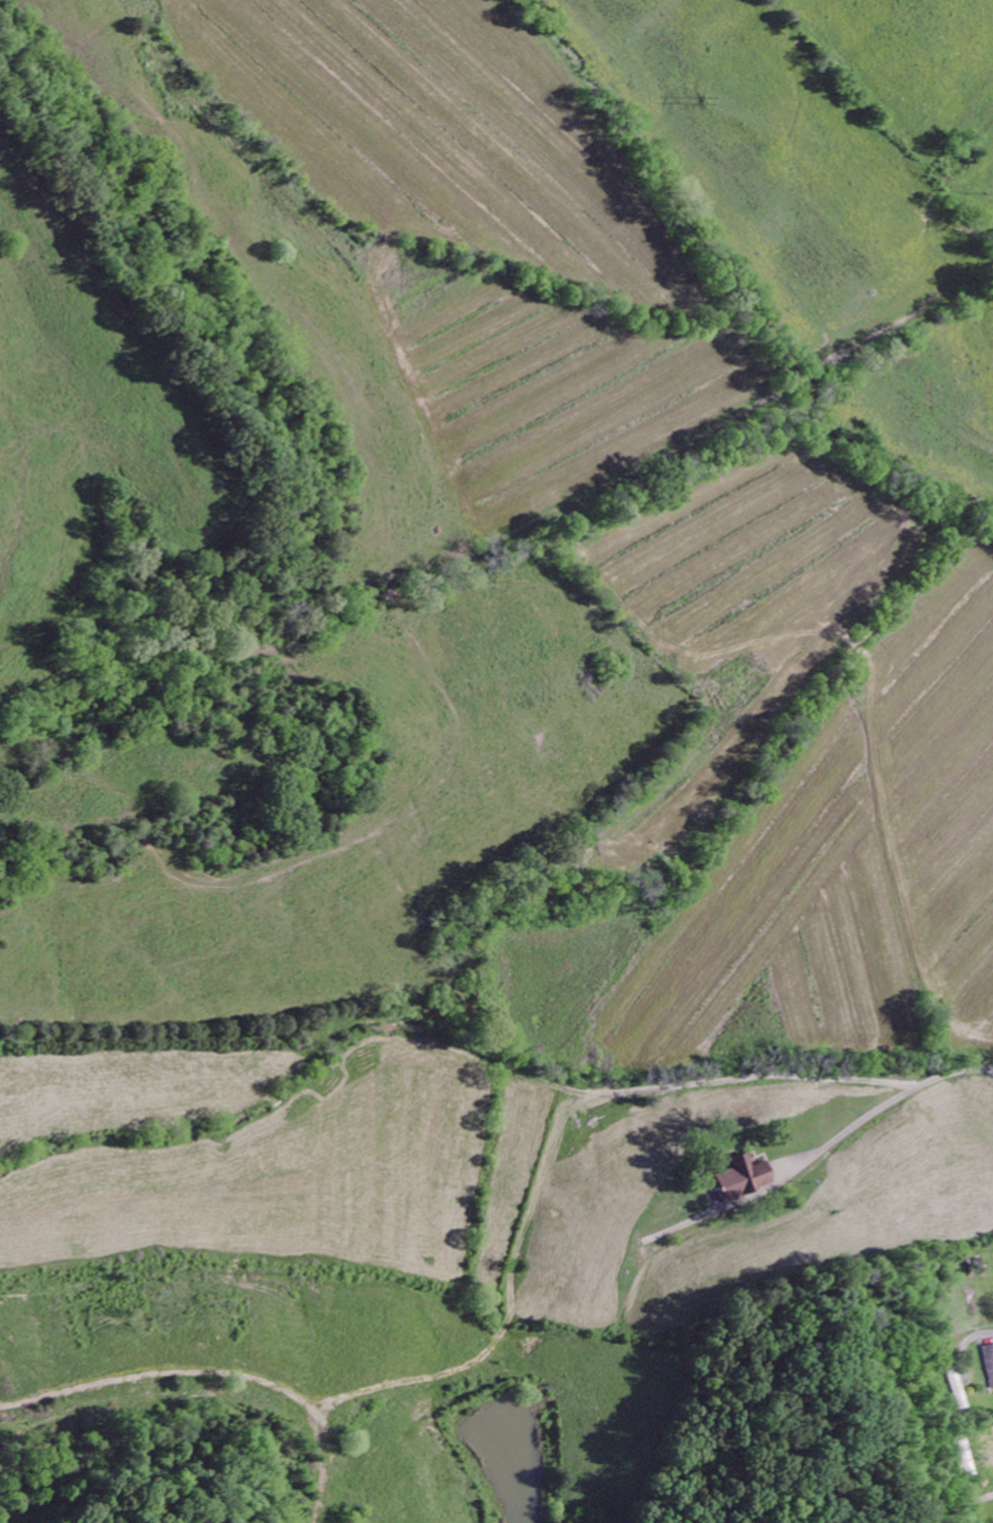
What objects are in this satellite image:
road: (632, 1059)
building: (745, 1181)
building: (989, 1365)

